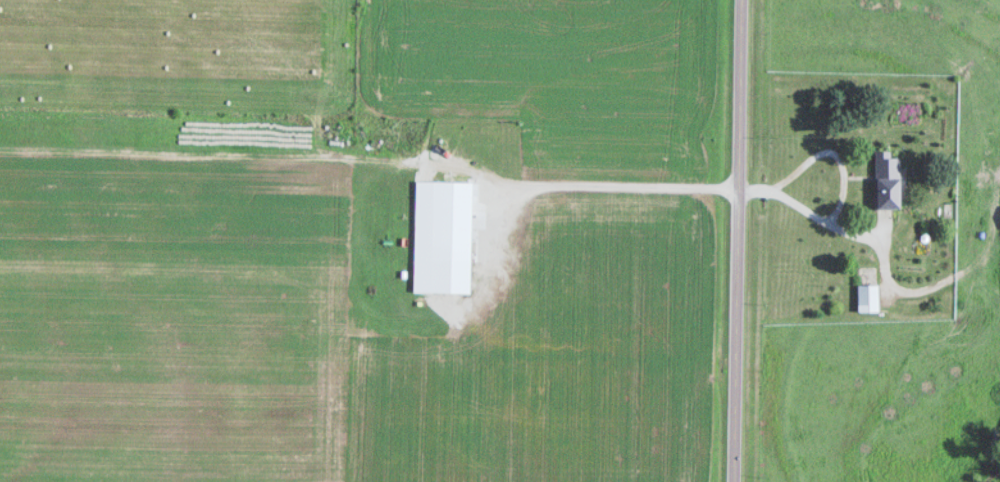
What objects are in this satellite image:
road: (838, 171)
building: (883, 180)
road: (608, 188)
building: (447, 219)
road: (737, 241)
building: (865, 297)

